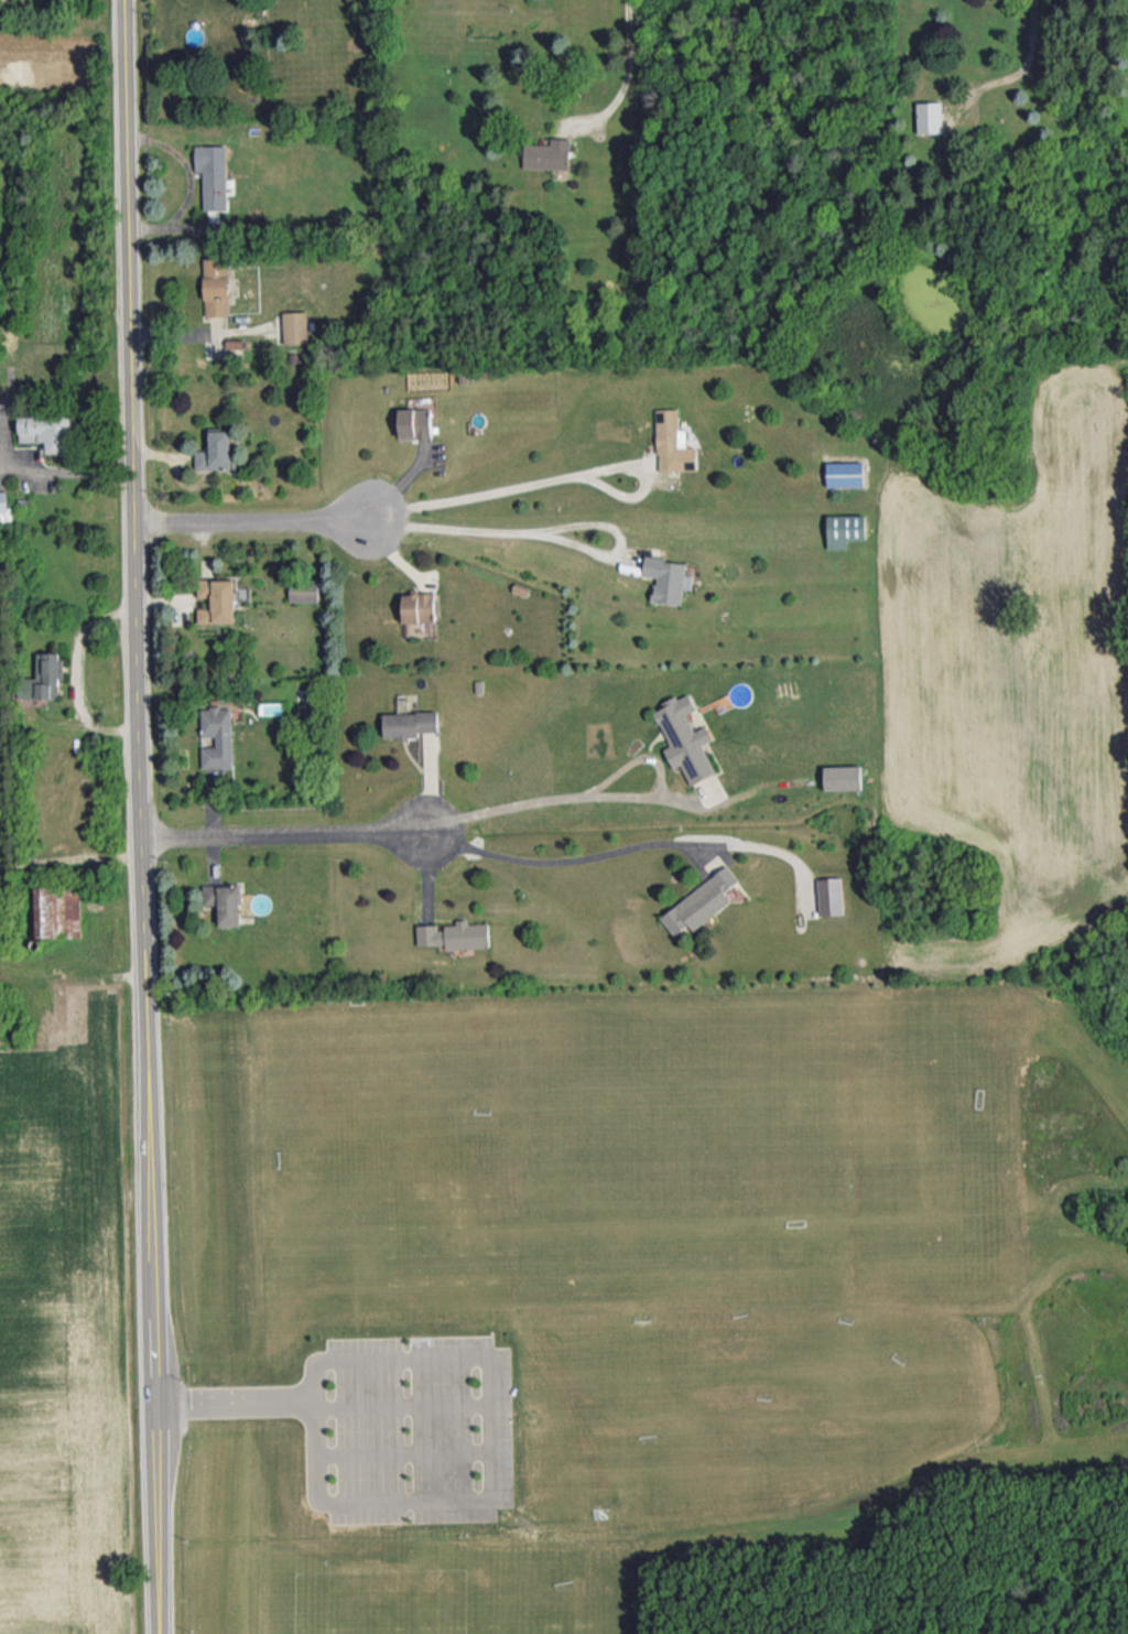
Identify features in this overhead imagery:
road: (1017, 72)
road: (626, 78)
building: (930, 116)
building: (547, 153)
building: (214, 174)
building: (217, 285)
building: (295, 326)
building: (415, 422)
building: (48, 431)
building: (673, 442)
building: (217, 450)
road: (48, 469)
building: (846, 474)
road: (493, 491)
building: (4, 507)
road: (251, 519)
building: (845, 528)
road: (491, 531)
building: (668, 577)
building: (304, 591)
building: (218, 599)
building: (419, 606)
road: (142, 654)
road: (76, 672)
building: (45, 677)
crop: (1023, 677)
building: (411, 722)
building: (217, 736)
building: (686, 736)
building: (843, 777)
road: (552, 798)
road: (285, 832)
road: (563, 858)
building: (831, 895)
building: (226, 901)
building: (697, 906)
building: (59, 910)
building: (454, 934)
park: (647, 1311)
road: (158, 1356)
road: (237, 1402)
road: (404, 1402)
road: (406, 1451)
road: (497, 1454)
road: (161, 1518)

